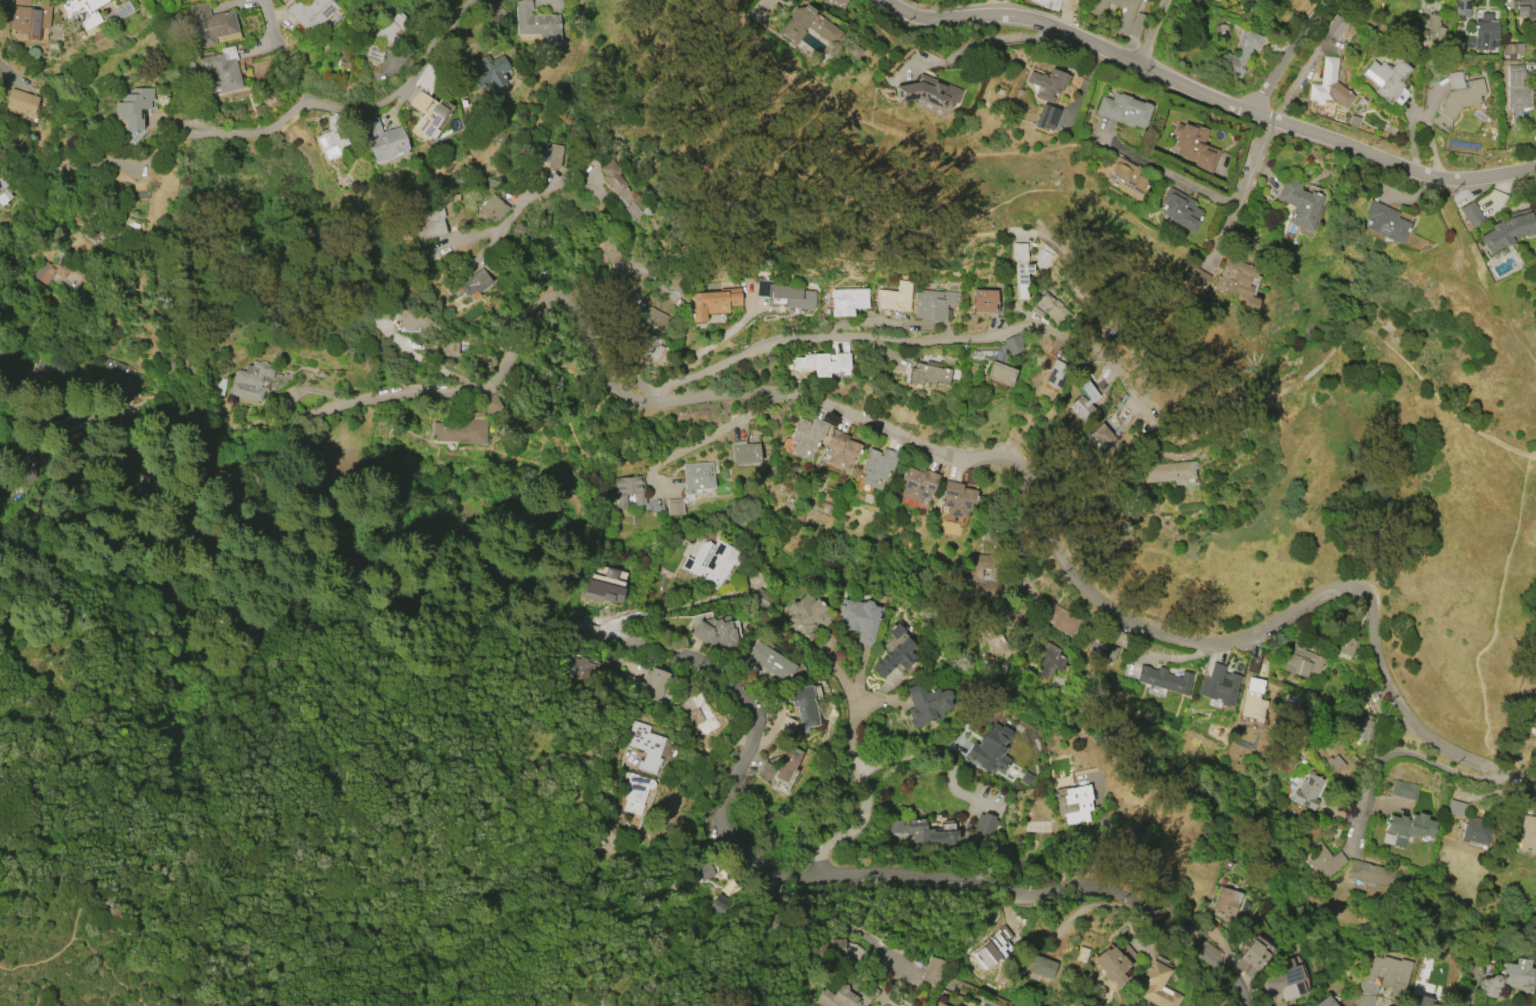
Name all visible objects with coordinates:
building: (0, 0)
building: (188, 0)
building: (21, 2)
building: (835, 3)
building: (1046, 3)
building: (1461, 7)
building: (1525, 10)
building: (82, 11)
building: (311, 12)
road: (270, 15)
building: (1118, 15)
building: (29, 20)
building: (536, 23)
building: (210, 24)
building: (806, 26)
building: (1338, 27)
building: (392, 28)
road: (1152, 32)
building: (1422, 33)
building: (1483, 33)
building: (1464, 42)
building: (851, 50)
building: (1513, 50)
building: (375, 53)
building: (1214, 53)
road: (1289, 54)
building: (221, 70)
building: (491, 70)
road: (25, 72)
building: (1515, 76)
building: (1384, 78)
building: (1046, 83)
building: (1328, 85)
building: (928, 92)
road: (1209, 96)
building: (1457, 98)
building: (21, 101)
building: (1517, 101)
road: (297, 107)
building: (134, 108)
building: (1123, 110)
building: (426, 113)
building: (1046, 117)
building: (1353, 120)
building: (383, 138)
building: (330, 144)
building: (1195, 146)
building: (551, 155)
road: (1166, 167)
road: (792, 173)
building: (1123, 177)
road: (1242, 187)
building: (4, 189)
building: (623, 190)
building: (1299, 203)
building: (492, 208)
road: (610, 208)
building: (1179, 209)
building: (1470, 214)
building: (429, 221)
building: (1384, 221)
building: (1508, 230)
road: (490, 246)
building: (611, 253)
building: (57, 267)
building: (1020, 269)
road: (1481, 274)
building: (1195, 277)
building: (474, 282)
building: (1242, 284)
building: (785, 294)
building: (894, 297)
building: (983, 300)
road: (1088, 300)
building: (847, 301)
building: (712, 303)
building: (933, 303)
building: (1054, 310)
building: (415, 319)
building: (656, 319)
road: (826, 335)
road: (1344, 337)
building: (1014, 343)
building: (651, 344)
building: (443, 346)
road: (705, 347)
road: (1098, 352)
road: (422, 357)
building: (822, 363)
building: (320, 373)
building: (1000, 373)
building: (928, 374)
building: (1055, 377)
building: (116, 378)
building: (251, 380)
road: (13, 382)
building: (491, 403)
building: (1081, 407)
building: (460, 431)
road: (65, 435)
building: (1105, 435)
building: (806, 437)
road: (115, 438)
road: (703, 438)
road: (926, 445)
building: (839, 449)
building: (744, 453)
building: (876, 465)
building: (1167, 472)
building: (697, 477)
building: (917, 484)
building: (628, 490)
building: (956, 498)
building: (674, 507)
road: (1021, 525)
road: (531, 540)
building: (712, 561)
building: (982, 576)
building: (603, 591)
building: (761, 597)
road: (1496, 611)
building: (807, 616)
building: (861, 618)
building: (1061, 618)
building: (716, 633)
building: (993, 642)
building: (1346, 645)
building: (1105, 647)
road: (391, 649)
building: (895, 651)
building: (1050, 659)
building: (771, 661)
building: (1302, 663)
building: (1252, 664)
building: (580, 668)
building: (1163, 679)
building: (1217, 684)
building: (652, 685)
building: (1253, 701)
building: (926, 704)
building: (804, 708)
building: (1292, 712)
building: (701, 715)
building: (1359, 726)
building: (645, 746)
road: (947, 749)
building: (989, 749)
road: (1395, 753)
building: (1334, 763)
building: (786, 768)
building: (766, 770)
road: (860, 775)
road: (694, 779)
road: (733, 781)
building: (1404, 790)
building: (635, 791)
building: (1308, 791)
building: (1075, 804)
building: (1456, 807)
building: (985, 823)
building: (1410, 826)
building: (897, 827)
building: (927, 833)
building: (1526, 833)
building: (595, 838)
road: (213, 842)
road: (596, 859)
building: (1322, 859)
road: (533, 870)
building: (704, 871)
building: (1371, 873)
road: (76, 881)
building: (1226, 902)
building: (720, 903)
road: (310, 909)
building: (827, 951)
building: (1250, 959)
building: (1114, 962)
road: (630, 966)
building: (1039, 968)
road: (111, 970)
building: (932, 970)
building: (1383, 974)
building: (1507, 979)
building: (1285, 980)
building: (1158, 986)
building: (846, 991)
building: (1325, 1002)
building: (1204, 1004)
building: (1413, 1005)
building: (1425, 1005)

